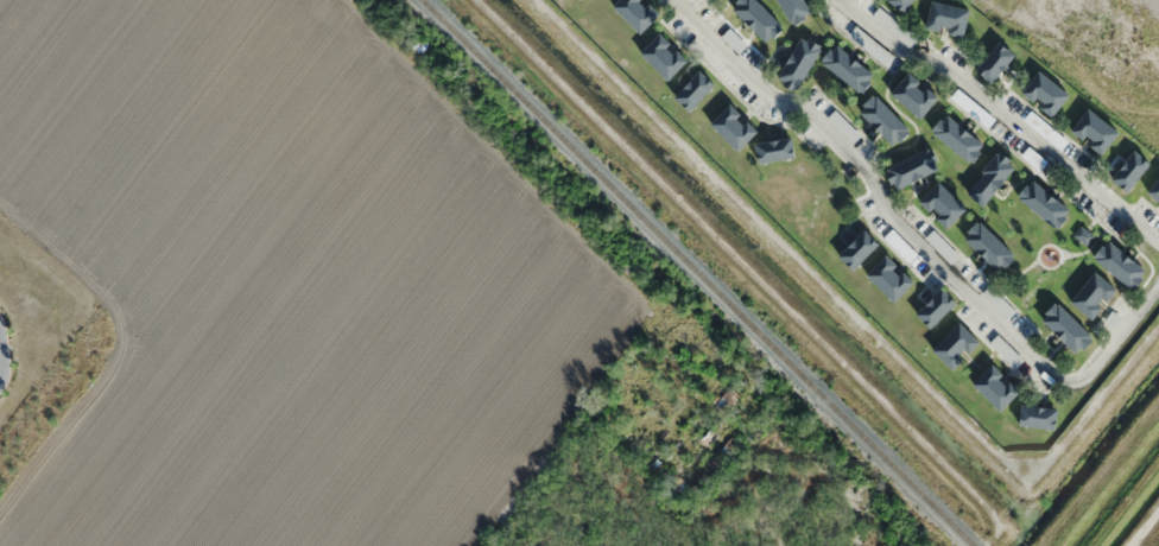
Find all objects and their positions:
building: (902, 4)
building: (638, 13)
building: (759, 18)
building: (949, 18)
building: (664, 56)
building: (996, 62)
building: (800, 63)
building: (849, 68)
building: (695, 89)
building: (1046, 93)
building: (914, 94)
road: (1003, 112)
building: (885, 119)
building: (735, 127)
building: (1095, 131)
building: (958, 138)
building: (777, 150)
building: (914, 167)
building: (1132, 170)
building: (992, 178)
building: (1154, 189)
road: (878, 190)
building: (943, 204)
building: (1045, 204)
building: (1155, 221)
building: (900, 246)
building: (942, 246)
building: (990, 246)
building: (860, 249)
building: (1121, 264)
railway: (699, 273)
building: (891, 278)
building: (1095, 296)
building: (999, 303)
building: (937, 307)
building: (1068, 328)
road: (1120, 331)
building: (957, 345)
building: (1007, 350)
building: (996, 387)
building: (1039, 417)
road: (1144, 527)

